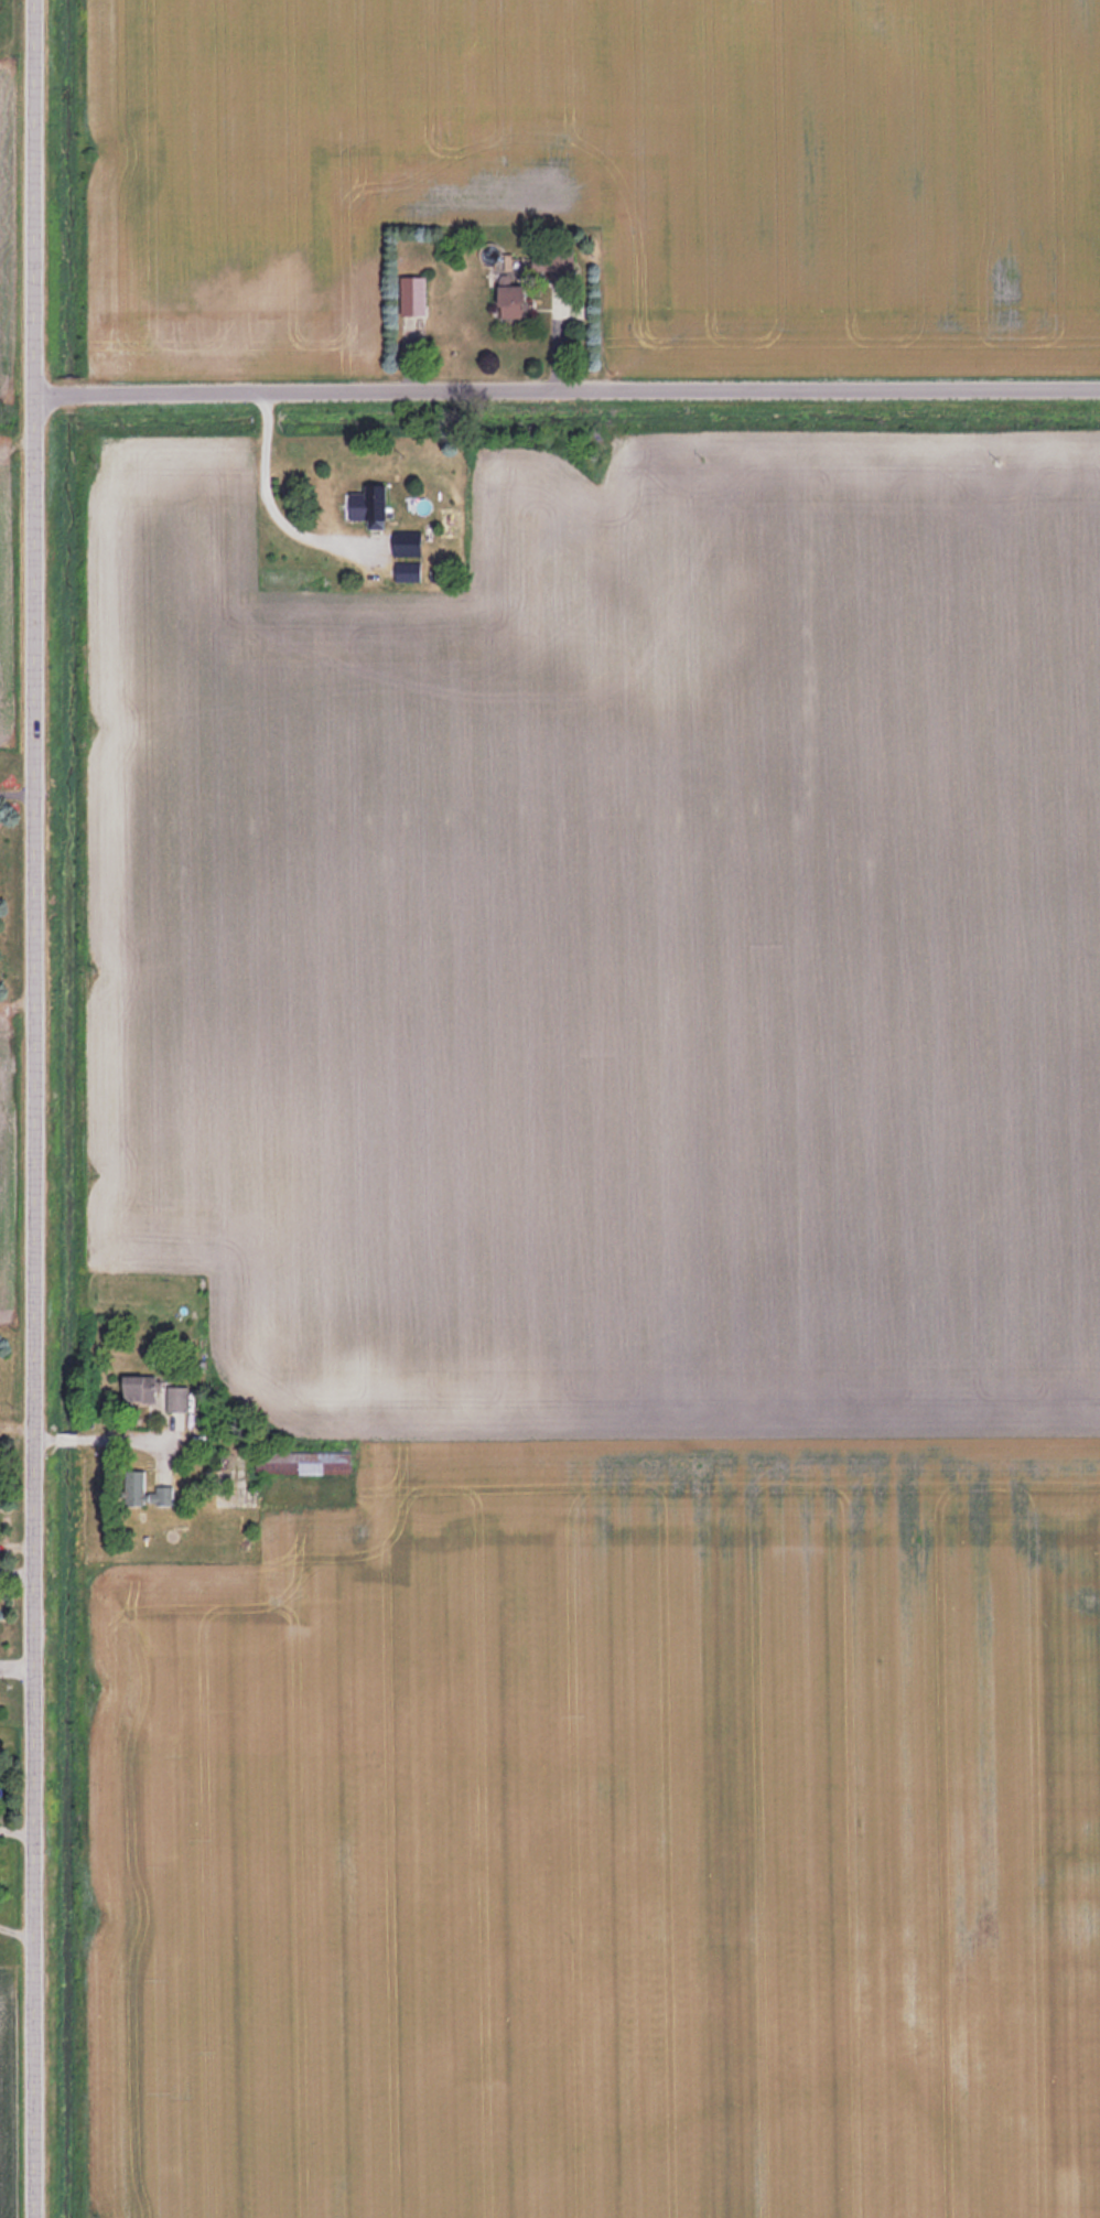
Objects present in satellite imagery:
building: (557, 266)
building: (411, 297)
building: (507, 302)
road: (569, 395)
building: (374, 506)
road: (278, 513)
building: (406, 543)
building: (406, 571)
road: (40, 1109)
building: (134, 1388)
building: (175, 1398)
building: (132, 1487)
building: (159, 1496)

